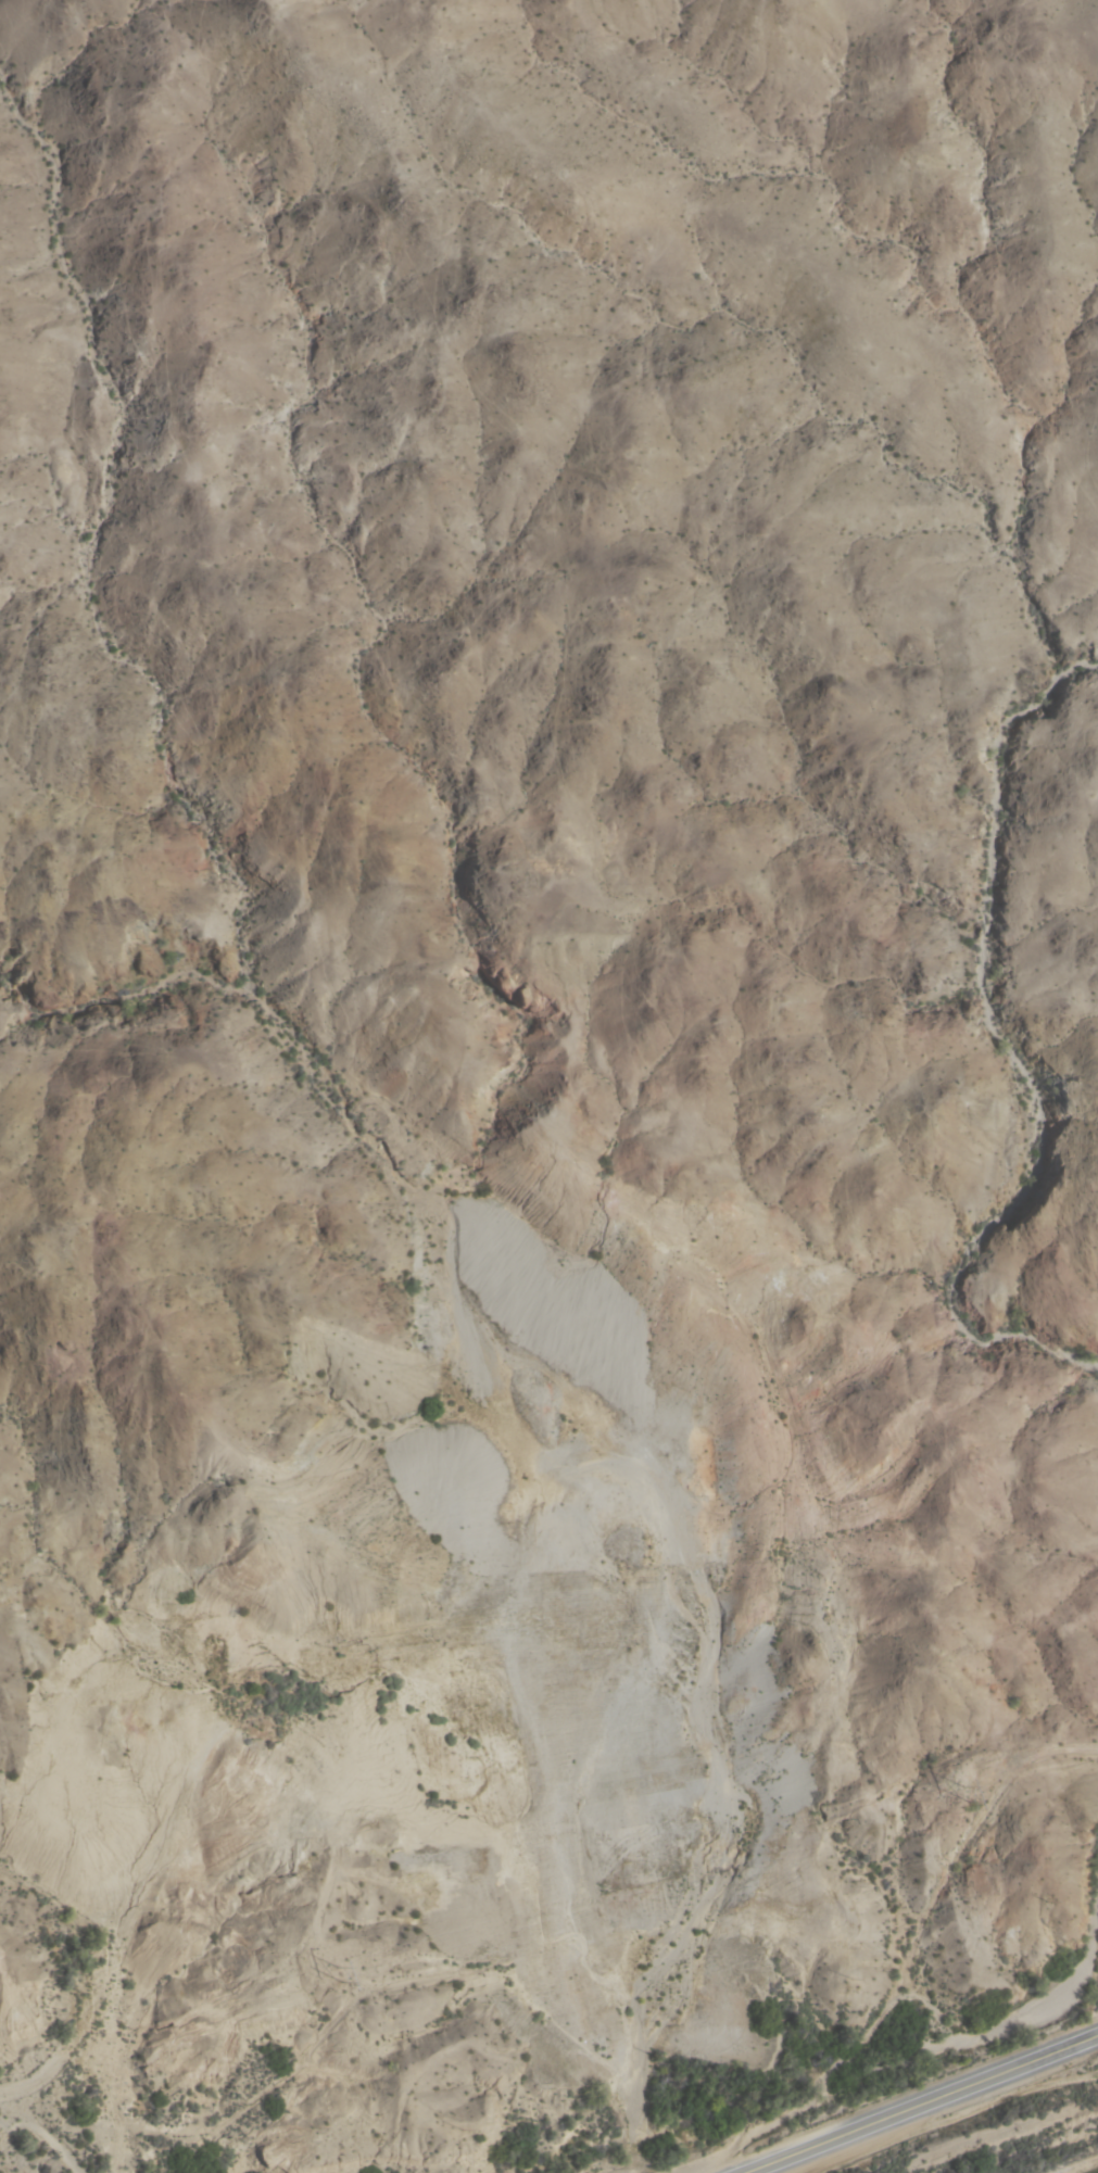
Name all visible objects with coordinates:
power tower: (964, 1793)
power tower: (343, 1973)
road: (929, 2107)

